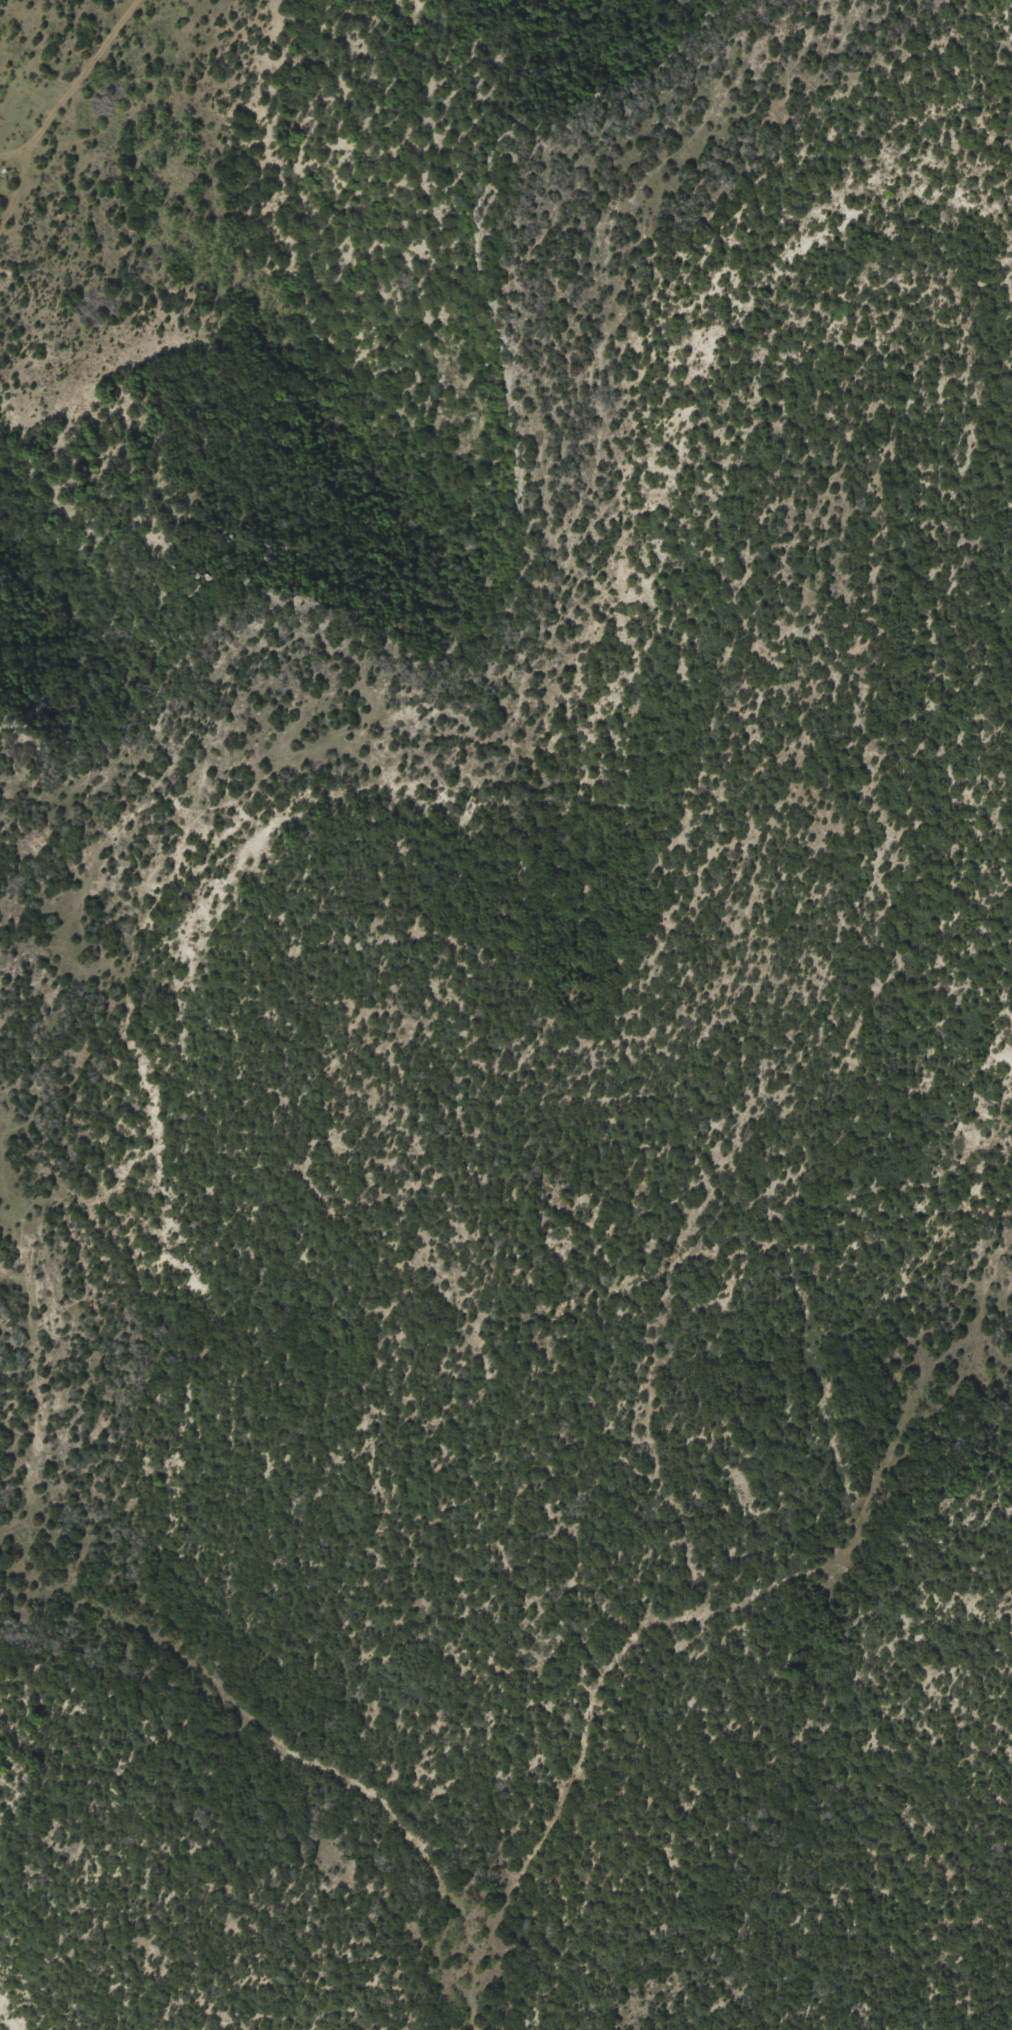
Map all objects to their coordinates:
road: (71, 90)

